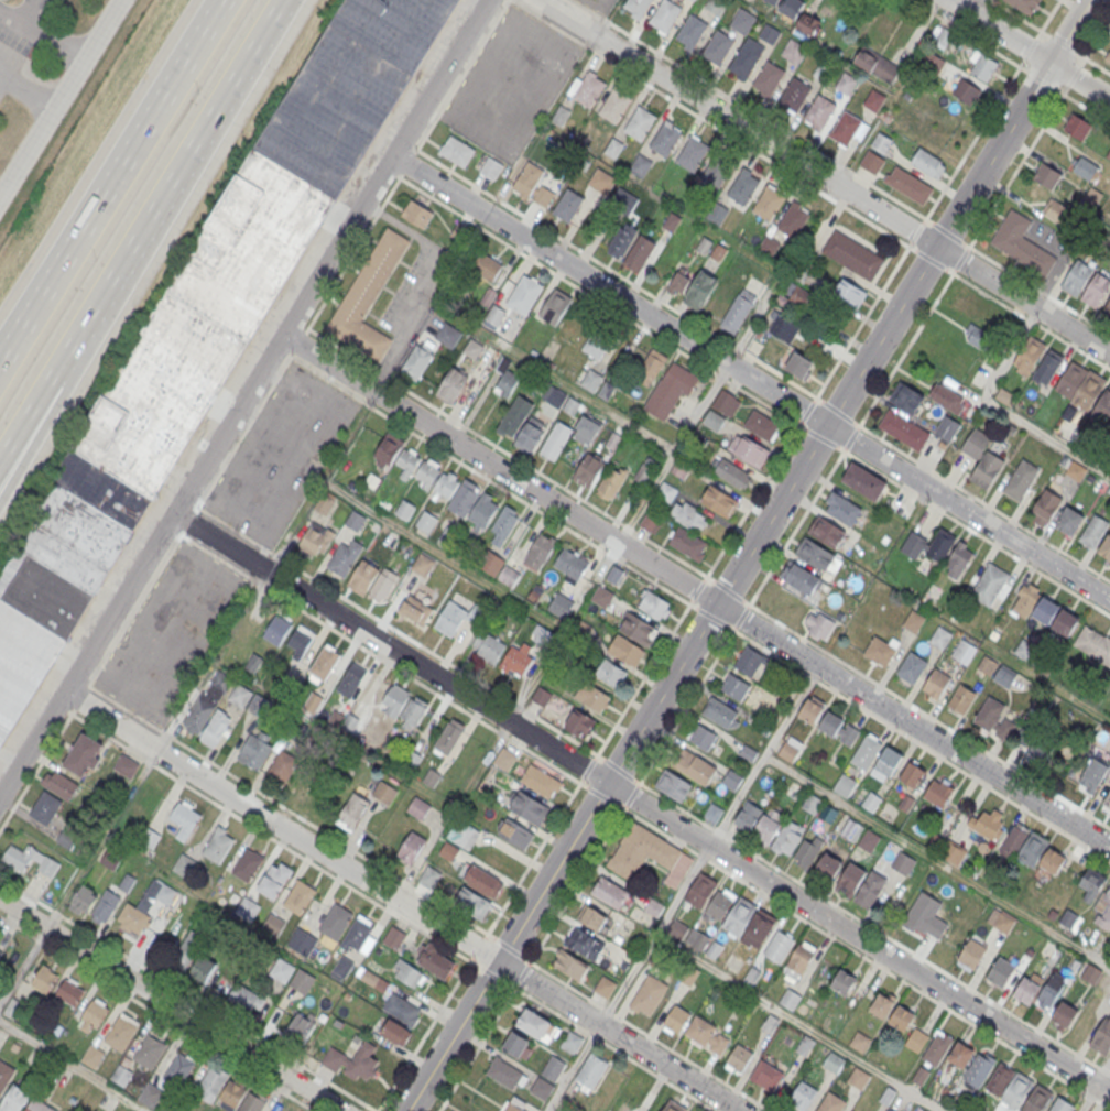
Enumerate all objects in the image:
road: (951, 0)
building: (772, 1)
parking lot: (599, 6)
building: (1024, 6)
building: (636, 7)
road: (25, 12)
building: (801, 15)
building: (664, 17)
building: (743, 22)
road: (957, 25)
building: (690, 32)
road: (42, 39)
building: (717, 48)
road: (1030, 50)
building: (794, 52)
building: (1108, 56)
road: (1023, 58)
building: (746, 59)
building: (878, 66)
building: (982, 67)
building: (823, 70)
building: (768, 79)
parking lot: (510, 84)
building: (846, 85)
road: (29, 86)
building: (589, 91)
building: (967, 94)
building: (794, 96)
road: (62, 100)
building: (873, 100)
building: (614, 107)
building: (819, 113)
road: (759, 116)
building: (640, 124)
building: (1077, 127)
road: (721, 129)
building: (845, 130)
building: (665, 140)
road: (137, 141)
building: (881, 142)
building: (456, 151)
building: (1108, 153)
building: (693, 155)
building: (872, 163)
building: (928, 163)
building: (641, 164)
building: (1084, 167)
building: (490, 168)
building: (717, 171)
building: (1046, 176)
road: (823, 177)
building: (601, 181)
building: (533, 186)
building: (908, 186)
building: (742, 188)
building: (768, 204)
building: (567, 206)
building: (1056, 213)
building: (416, 214)
building: (793, 221)
building: (671, 222)
road: (141, 226)
building: (621, 241)
building: (1021, 243)
building: (704, 246)
building: (718, 252)
building: (640, 253)
building: (852, 255)
building: (487, 268)
road: (616, 274)
building: (1077, 277)
road: (431, 282)
building: (693, 288)
building: (1096, 290)
building: (850, 294)
building: (524, 296)
building: (368, 298)
road: (598, 302)
building: (555, 308)
building: (1107, 308)
road: (24, 311)
building: (738, 312)
building: (496, 316)
road: (24, 322)
building: (206, 326)
building: (782, 328)
road: (96, 336)
building: (447, 336)
building: (978, 337)
building: (595, 346)
building: (472, 349)
building: (1029, 356)
building: (417, 361)
building: (651, 367)
building: (799, 367)
building: (1047, 367)
road: (751, 378)
building: (1071, 379)
building: (591, 380)
building: (507, 384)
building: (453, 385)
building: (1089, 390)
building: (671, 391)
road: (243, 396)
building: (906, 397)
building: (1005, 397)
building: (947, 399)
road: (596, 403)
building: (726, 404)
building: (572, 405)
building: (1103, 406)
road: (1004, 409)
building: (514, 416)
building: (761, 426)
building: (904, 428)
building: (948, 428)
building: (529, 438)
building: (612, 440)
building: (555, 442)
building: (749, 453)
road: (673, 454)
parking lot: (280, 455)
building: (396, 456)
building: (981, 459)
building: (679, 469)
building: (588, 471)
building: (1075, 472)
building: (426, 473)
building: (732, 473)
building: (862, 478)
building: (1021, 479)
building: (610, 483)
building: (446, 484)
building: (666, 492)
building: (720, 503)
building: (324, 504)
building: (474, 504)
building: (842, 509)
building: (1045, 509)
building: (404, 510)
building: (688, 515)
building: (1070, 519)
building: (355, 521)
building: (425, 522)
building: (651, 522)
building: (503, 525)
building: (828, 531)
building: (1095, 531)
building: (314, 541)
building: (688, 545)
building: (928, 546)
building: (1106, 548)
building: (538, 553)
building: (815, 553)
road: (748, 555)
building: (344, 559)
building: (959, 560)
building: (422, 564)
building: (570, 565)
building: (501, 570)
building: (614, 576)
building: (799, 576)
building: (372, 580)
road: (490, 582)
building: (989, 585)
road: (696, 592)
building: (601, 597)
building: (561, 606)
road: (687, 606)
building: (654, 607)
building: (415, 610)
building: (1046, 610)
building: (456, 618)
building: (913, 621)
building: (1065, 622)
building: (819, 625)
building: (276, 630)
building: (638, 630)
parking lot: (171, 631)
building: (541, 635)
building: (940, 638)
building: (298, 641)
building: (1093, 644)
building: (487, 646)
building: (627, 651)
building: (880, 651)
building: (964, 652)
road: (717, 655)
building: (516, 662)
building: (324, 663)
building: (749, 663)
building: (911, 667)
building: (610, 673)
building: (350, 679)
building: (936, 684)
road: (88, 685)
building: (734, 688)
building: (239, 695)
building: (594, 697)
building: (961, 699)
building: (394, 701)
building: (206, 702)
building: (312, 704)
building: (258, 706)
building: (810, 711)
building: (989, 712)
building: (719, 714)
road: (1098, 714)
building: (412, 716)
building: (580, 725)
building: (215, 728)
building: (839, 730)
building: (449, 737)
building: (703, 738)
building: (790, 750)
building: (1043, 750)
building: (254, 751)
building: (866, 751)
building: (83, 756)
building: (504, 759)
building: (885, 762)
road: (39, 763)
building: (124, 766)
building: (282, 767)
building: (695, 767)
building: (912, 774)
building: (1092, 776)
building: (731, 780)
building: (541, 782)
building: (844, 783)
building: (673, 785)
building: (59, 786)
building: (793, 789)
building: (302, 791)
building: (938, 792)
building: (383, 793)
road: (733, 798)
road: (642, 802)
building: (812, 802)
building: (527, 806)
building: (418, 807)
building: (44, 808)
building: (351, 812)
building: (712, 813)
building: (748, 816)
building: (185, 821)
building: (768, 821)
building: (988, 826)
building: (851, 828)
building: (514, 832)
road: (892, 832)
building: (463, 834)
building: (786, 835)
building: (65, 838)
building: (868, 838)
building: (217, 845)
building: (807, 846)
building: (411, 848)
building: (951, 850)
building: (649, 856)
building: (110, 859)
building: (28, 860)
building: (903, 860)
building: (1052, 860)
building: (247, 864)
building: (183, 865)
building: (828, 867)
building: (850, 875)
building: (428, 878)
building: (480, 880)
building: (1092, 880)
building: (273, 881)
building: (699, 887)
building: (869, 889)
building: (164, 894)
building: (611, 894)
building: (298, 896)
road: (404, 897)
building: (83, 900)
building: (469, 902)
building: (719, 904)
building: (105, 907)
building: (244, 907)
road: (393, 911)
building: (739, 913)
building: (1103, 914)
building: (592, 918)
building: (335, 919)
building: (1001, 919)
building: (132, 921)
building: (758, 925)
building: (272, 926)
building: (356, 932)
road: (654, 934)
building: (394, 938)
building: (302, 943)
building: (585, 944)
building: (777, 944)
building: (187, 949)
building: (971, 952)
building: (798, 957)
building: (434, 962)
road: (22, 965)
building: (570, 965)
building: (341, 969)
building: (203, 970)
building: (1000, 971)
building: (407, 974)
building: (1090, 974)
building: (369, 979)
building: (42, 980)
building: (842, 981)
building: (605, 987)
building: (1026, 990)
building: (68, 991)
building: (647, 992)
building: (246, 999)
building: (790, 999)
building: (880, 1004)
road: (170, 1005)
building: (1064, 1013)
building: (92, 1015)
building: (675, 1017)
building: (901, 1017)
building: (399, 1020)
road: (797, 1023)
building: (536, 1025)
building: (298, 1030)
building: (120, 1031)
building: (707, 1035)
building: (916, 1041)
building: (572, 1042)
building: (859, 1042)
building: (516, 1045)
building: (937, 1048)
building: (149, 1049)
building: (960, 1054)
building: (92, 1057)
building: (739, 1058)
building: (833, 1061)
building: (355, 1063)
road: (70, 1067)
building: (554, 1067)
road: (574, 1067)
building: (178, 1068)
building: (591, 1071)
building: (978, 1071)
building: (4, 1074)
building: (507, 1074)
road: (1103, 1074)
building: (766, 1076)
building: (858, 1078)
building: (211, 1083)
building: (542, 1086)
building: (1009, 1086)
building: (804, 1093)
road: (1089, 1098)
building: (14, 1099)
building: (1037, 1099)
building: (251, 1102)
building: (830, 1102)
building: (37, 1105)
building: (512, 1105)
building: (670, 1107)

